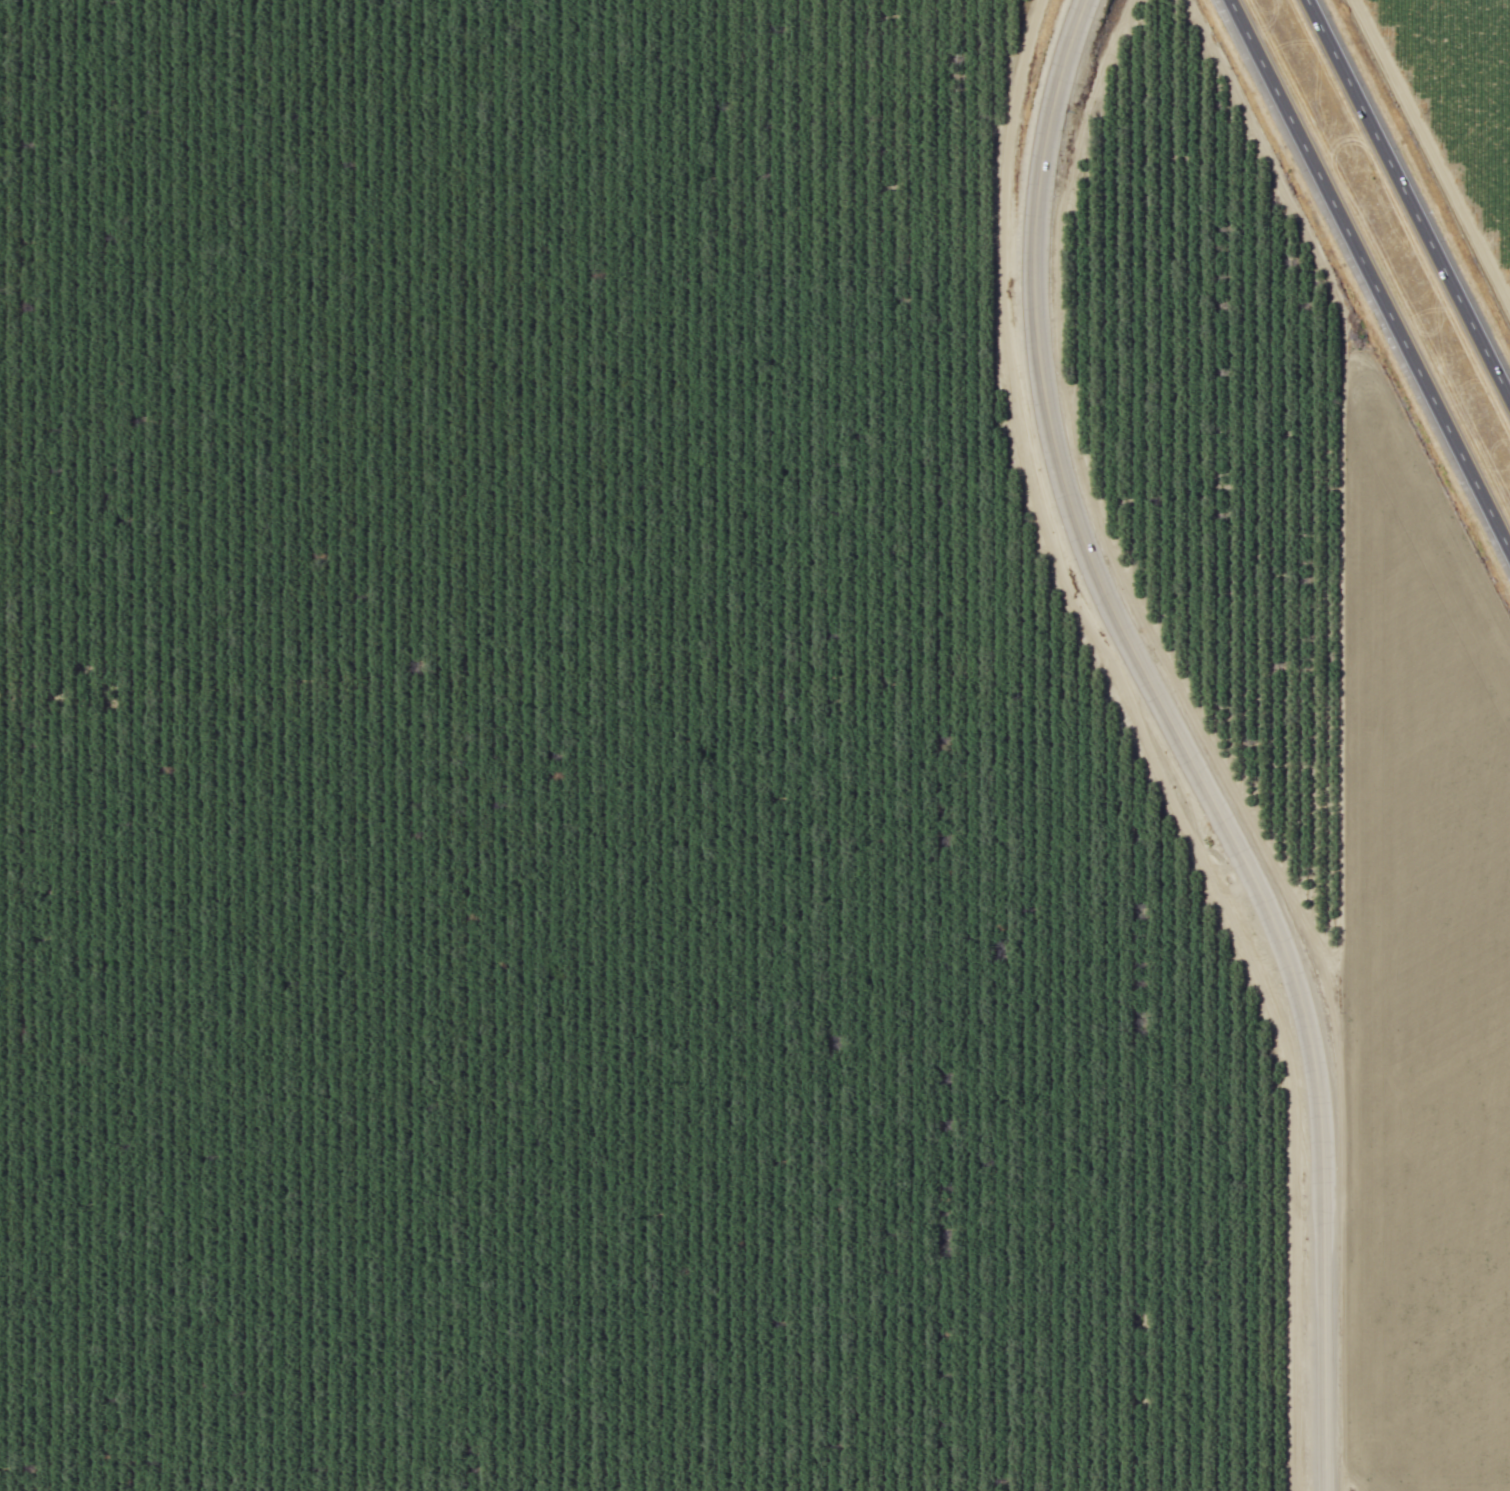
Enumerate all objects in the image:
crop: (1452, 110)
road: (1411, 194)
road: (1368, 278)
crop: (1200, 394)
road: (1184, 741)
crop: (1418, 956)

